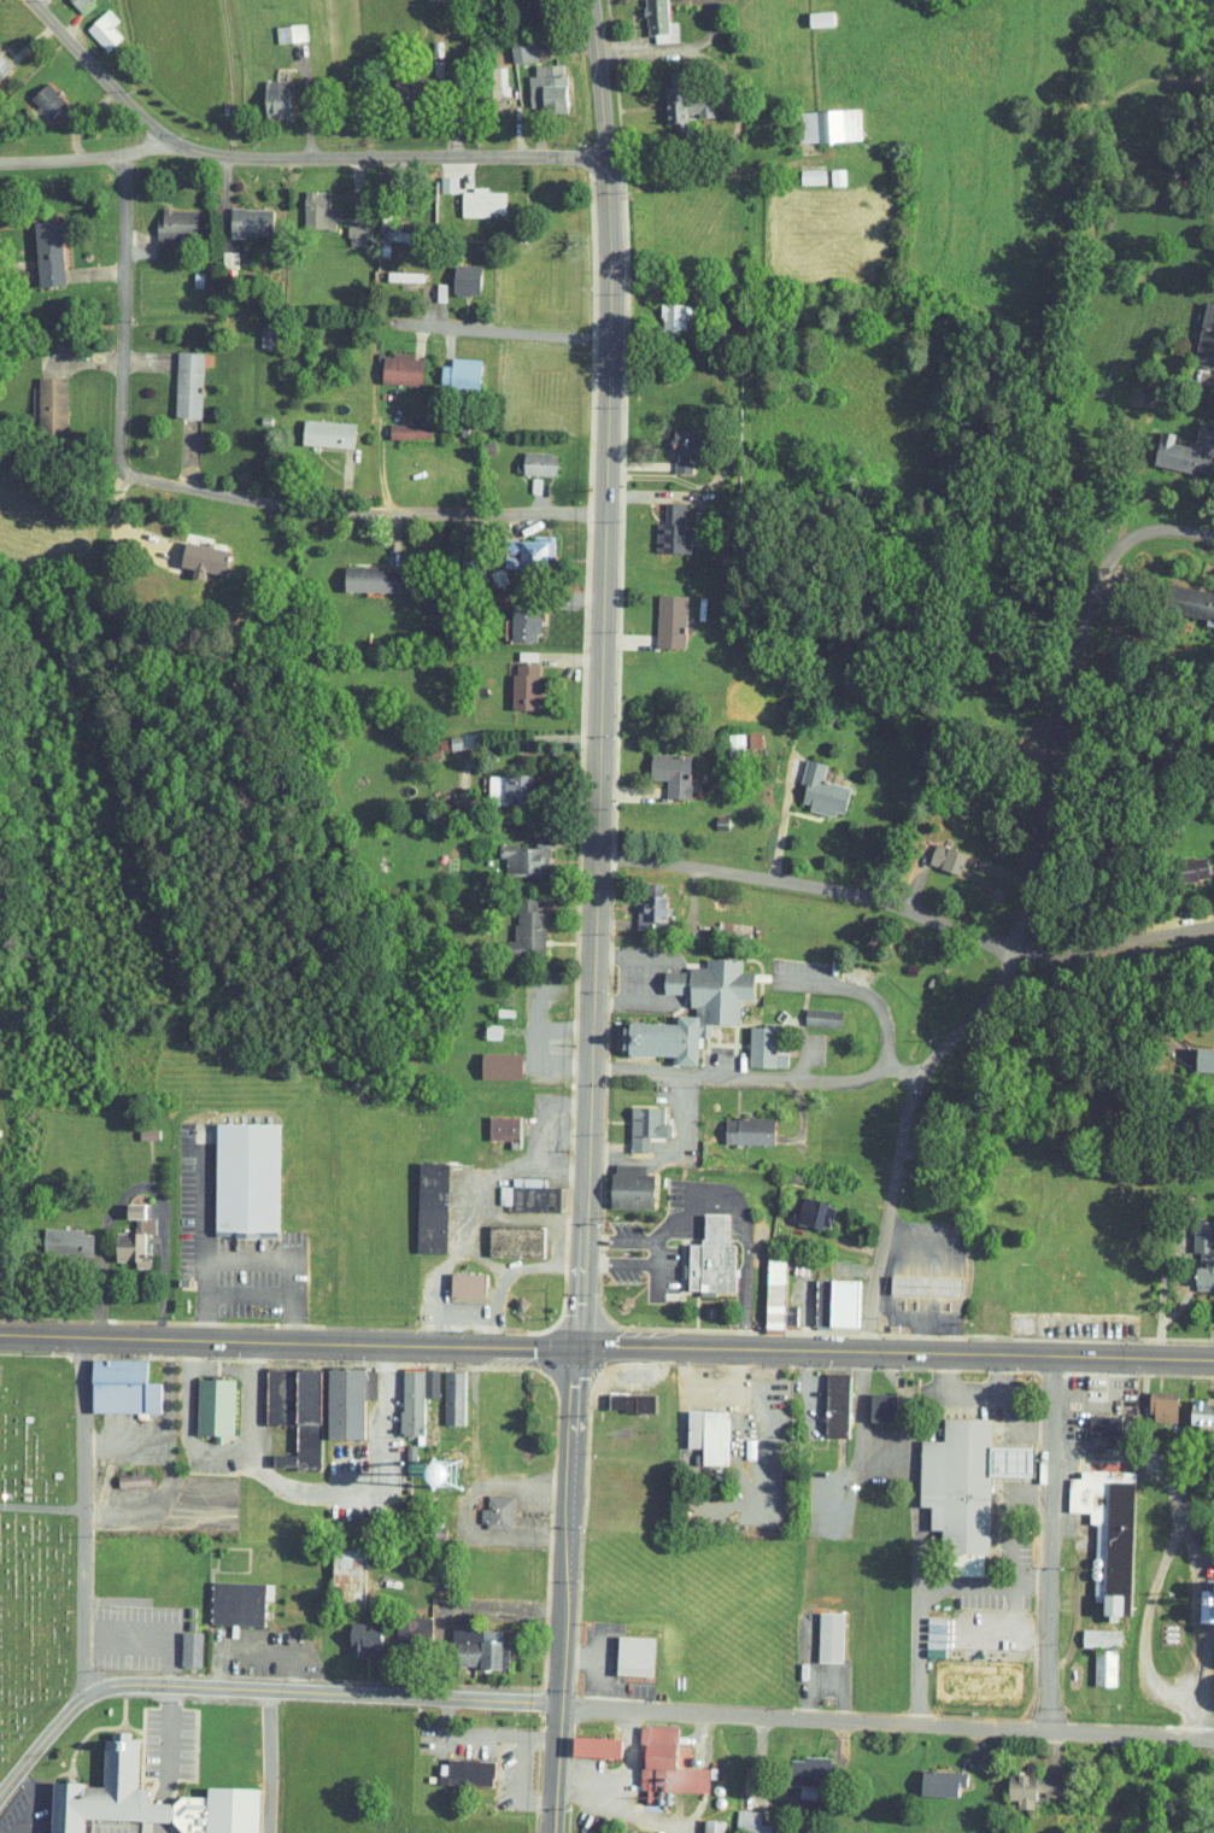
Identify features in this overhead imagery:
building: (68, 1)
building: (808, 11)
building: (645, 18)
building: (90, 23)
building: (276, 27)
building: (510, 46)
road: (94, 70)
building: (482, 81)
building: (533, 81)
building: (394, 82)
building: (262, 92)
building: (31, 93)
building: (661, 96)
building: (815, 118)
road: (83, 157)
road: (383, 158)
building: (798, 170)
building: (823, 170)
building: (468, 195)
building: (304, 204)
building: (237, 215)
building: (163, 218)
building: (342, 227)
building: (34, 246)
building: (389, 269)
building: (452, 273)
building: (659, 310)
road: (124, 312)
building: (1197, 327)
road: (500, 333)
building: (388, 362)
building: (447, 365)
building: (175, 377)
building: (37, 398)
building: (395, 424)
building: (313, 427)
building: (671, 444)
building: (1174, 444)
building: (526, 457)
road: (363, 513)
building: (659, 523)
road: (1140, 533)
building: (520, 546)
building: (189, 552)
building: (358, 572)
building: (1184, 597)
road: (604, 614)
building: (657, 614)
building: (510, 620)
building: (511, 679)
building: (658, 767)
building: (808, 781)
building: (495, 784)
building: (511, 849)
building: (933, 850)
building: (1180, 860)
road: (907, 916)
building: (514, 924)
road: (635, 955)
road: (985, 979)
road: (674, 980)
road: (861, 990)
building: (680, 1001)
road: (634, 1003)
building: (809, 1009)
building: (479, 1024)
building: (751, 1041)
building: (1198, 1052)
building: (487, 1058)
road: (752, 1074)
building: (632, 1118)
building: (489, 1119)
building: (735, 1123)
road: (669, 1148)
building: (233, 1171)
road: (125, 1178)
building: (617, 1179)
building: (516, 1188)
building: (418, 1199)
building: (802, 1205)
building: (121, 1230)
building: (53, 1232)
building: (502, 1234)
road: (188, 1240)
road: (277, 1249)
building: (1195, 1251)
building: (698, 1252)
building: (911, 1278)
building: (453, 1279)
building: (761, 1284)
road: (233, 1287)
road: (581, 1288)
building: (823, 1294)
road: (288, 1340)
traffic signals: (577, 1347)
road: (896, 1352)
building: (109, 1380)
building: (263, 1388)
road: (972, 1388)
building: (440, 1389)
building: (401, 1390)
building: (335, 1393)
building: (617, 1394)
building: (823, 1396)
building: (201, 1399)
building: (869, 1399)
road: (921, 1399)
building: (1150, 1399)
road: (1130, 1404)
building: (1195, 1404)
building: (291, 1416)
road: (1011, 1417)
building: (1090, 1418)
road: (848, 1422)
building: (694, 1427)
building: (119, 1472)
building: (952, 1480)
road: (995, 1504)
building: (485, 1505)
road: (42, 1507)
road: (83, 1517)
building: (1095, 1523)
road: (901, 1534)
road: (1052, 1541)
park: (35, 1546)
road: (1144, 1560)
building: (334, 1566)
road: (978, 1576)
road: (564, 1589)
building: (1202, 1594)
building: (223, 1595)
building: (399, 1623)
building: (816, 1629)
building: (351, 1630)
building: (1087, 1630)
building: (467, 1640)
building: (177, 1641)
building: (621, 1648)
building: (1091, 1661)
road: (317, 1692)
road: (885, 1721)
building: (583, 1739)
road: (39, 1744)
building: (653, 1757)
road: (151, 1758)
road: (254, 1761)
building: (452, 1765)
building: (796, 1767)
building: (928, 1775)
building: (1019, 1781)
building: (135, 1794)
road: (16, 1803)
building: (738, 1819)

